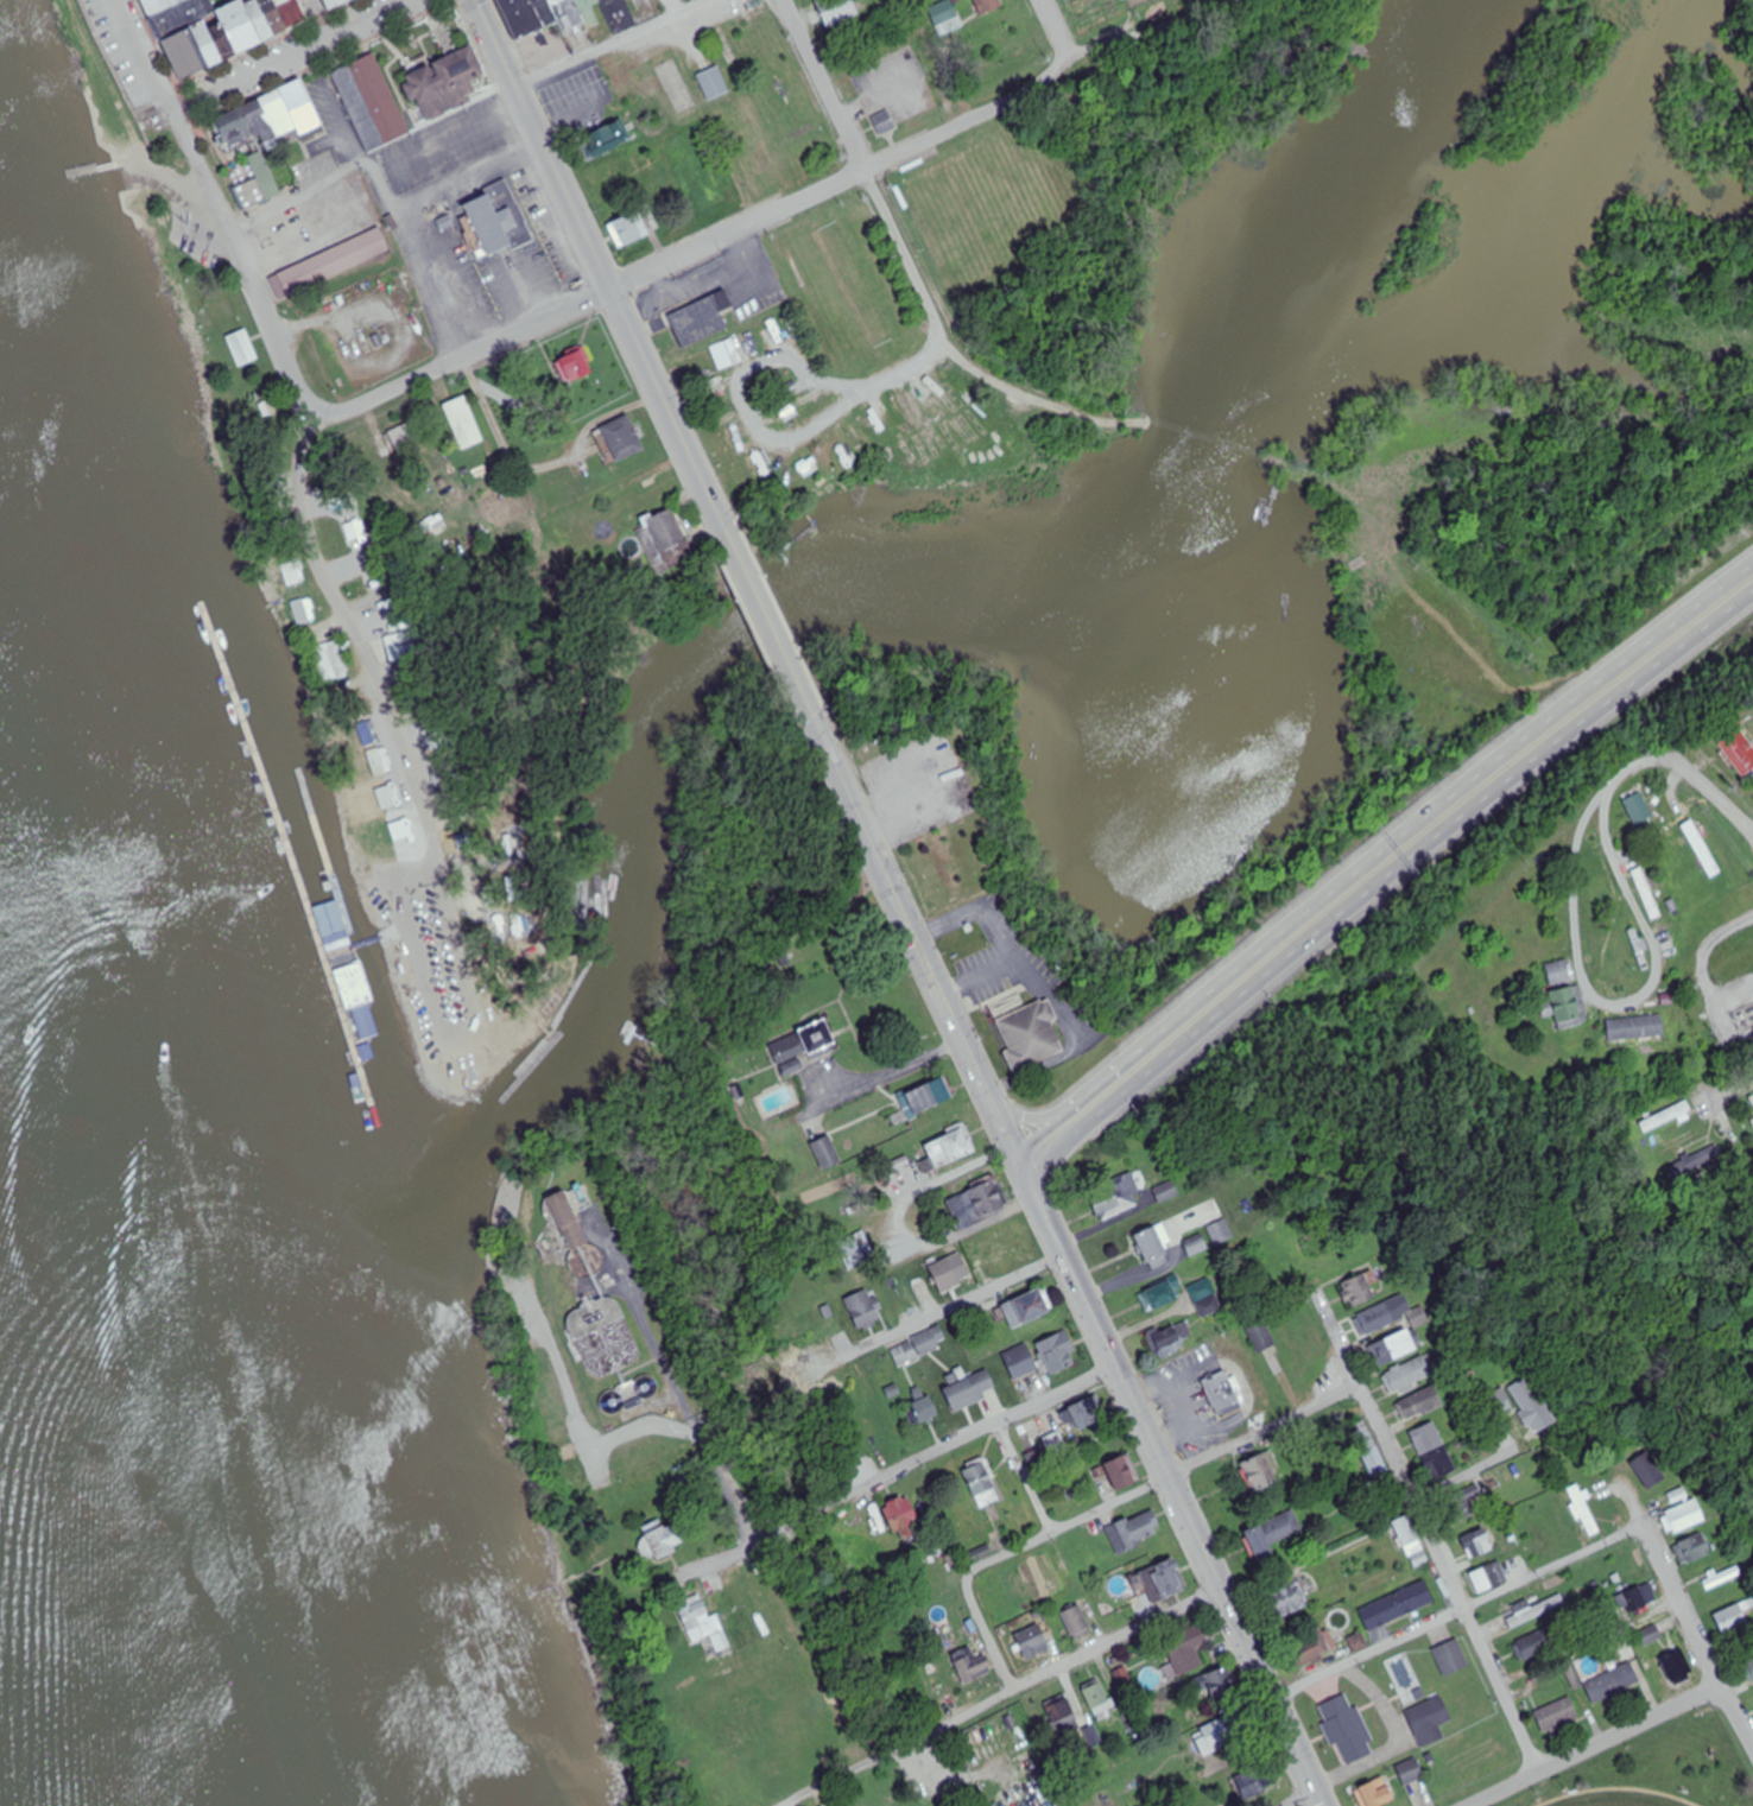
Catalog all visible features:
building: (333, 2)
building: (989, 5)
building: (158, 6)
building: (641, 6)
building: (590, 7)
building: (836, 11)
building: (567, 12)
building: (290, 13)
building: (944, 13)
building: (619, 14)
building: (181, 15)
building: (527, 15)
building: (271, 17)
road: (316, 19)
building: (257, 20)
building: (238, 28)
road: (1059, 33)
building: (219, 36)
building: (204, 43)
building: (183, 53)
road: (286, 56)
road: (137, 57)
parking lot: (120, 62)
building: (713, 82)
building: (443, 83)
building: (369, 102)
road: (336, 106)
building: (268, 116)
road: (466, 116)
building: (880, 118)
flagpole: (144, 126)
building: (606, 137)
pier: (99, 167)
road: (165, 176)
building: (255, 184)
road: (776, 211)
building: (499, 217)
building: (628, 230)
road: (896, 232)
road: (419, 258)
building: (327, 262)
road: (603, 264)
road: (242, 268)
park: (849, 283)
flagpole: (663, 315)
building: (698, 318)
park: (217, 325)
building: (242, 347)
building: (727, 355)
building: (577, 363)
road: (747, 368)
building: (711, 387)
building: (1156, 387)
building: (619, 437)
building: (413, 462)
building: (749, 462)
building: (355, 527)
building: (665, 540)
building: (303, 616)
road: (768, 625)
road: (359, 641)
building: (393, 647)
building: (330, 661)
road: (1565, 702)
building: (368, 736)
building: (1740, 749)
building: (379, 761)
road: (1686, 761)
building: (1640, 810)
building: (403, 829)
building: (1702, 849)
road: (881, 862)
road: (1387, 879)
building: (1647, 893)
building: (333, 940)
building: (1639, 950)
road: (1224, 976)
building: (348, 986)
building: (1563, 995)
road: (1624, 1003)
flagpole: (985, 1008)
building: (1635, 1031)
building: (1027, 1037)
building: (804, 1047)
road: (974, 1059)
road: (888, 1073)
building: (929, 1096)
building: (1752, 1097)
road: (1034, 1115)
building: (1665, 1117)
road: (1010, 1130)
road: (1045, 1130)
building: (950, 1147)
building: (827, 1153)
road: (1025, 1162)
building: (1166, 1192)
building: (1114, 1193)
building: (977, 1203)
building: (571, 1229)
building: (1220, 1232)
building: (1008, 1240)
building: (1195, 1246)
building: (1152, 1249)
building: (854, 1250)
building: (945, 1275)
building: (1359, 1289)
road: (993, 1291)
building: (1162, 1295)
building: (1207, 1298)
building: (1029, 1308)
building: (865, 1310)
building: (1375, 1319)
building: (609, 1329)
building: (1261, 1337)
building: (1173, 1339)
building: (1392, 1348)
building: (916, 1349)
building: (1059, 1351)
building: (1020, 1363)
building: (1410, 1375)
building: (645, 1392)
building: (1221, 1392)
building: (964, 1394)
building: (1420, 1403)
building: (1520, 1405)
building: (925, 1409)
building: (1089, 1414)
building: (1055, 1443)
road: (953, 1445)
building: (1368, 1449)
building: (1432, 1451)
building: (1122, 1471)
building: (1258, 1474)
building: (1646, 1476)
building: (980, 1478)
road: (1175, 1481)
building: (1468, 1502)
road: (1109, 1506)
building: (1584, 1512)
building: (1684, 1516)
building: (901, 1517)
road: (1425, 1517)
building: (1137, 1529)
building: (1272, 1534)
building: (1411, 1541)
building: (1479, 1542)
building: (662, 1544)
building: (1692, 1548)
building: (1489, 1577)
building: (1721, 1578)
building: (1159, 1582)
building: (1635, 1598)
building: (1284, 1599)
road: (1461, 1604)
building: (1397, 1605)
building: (1536, 1610)
building: (1733, 1617)
building: (1077, 1623)
building: (703, 1624)
road: (1698, 1633)
building: (1650, 1636)
building: (1033, 1642)
building: (1189, 1642)
building: (1537, 1646)
building: (1311, 1647)
building: (1627, 1649)
building: (1451, 1658)
building: (972, 1666)
building: (1677, 1667)
building: (1749, 1667)
building: (1405, 1679)
building: (1612, 1683)
building: (1220, 1686)
road: (1006, 1692)
building: (1100, 1702)
building: (1557, 1716)
building: (1428, 1717)
building: (1063, 1719)
building: (1347, 1728)
building: (1216, 1737)
road: (1404, 1738)
building: (1005, 1741)
road: (1596, 1744)
building: (1411, 1773)
building: (1259, 1781)
building: (1377, 1793)
road: (1304, 1797)
road: (1325, 1797)
park: (1624, 1798)

